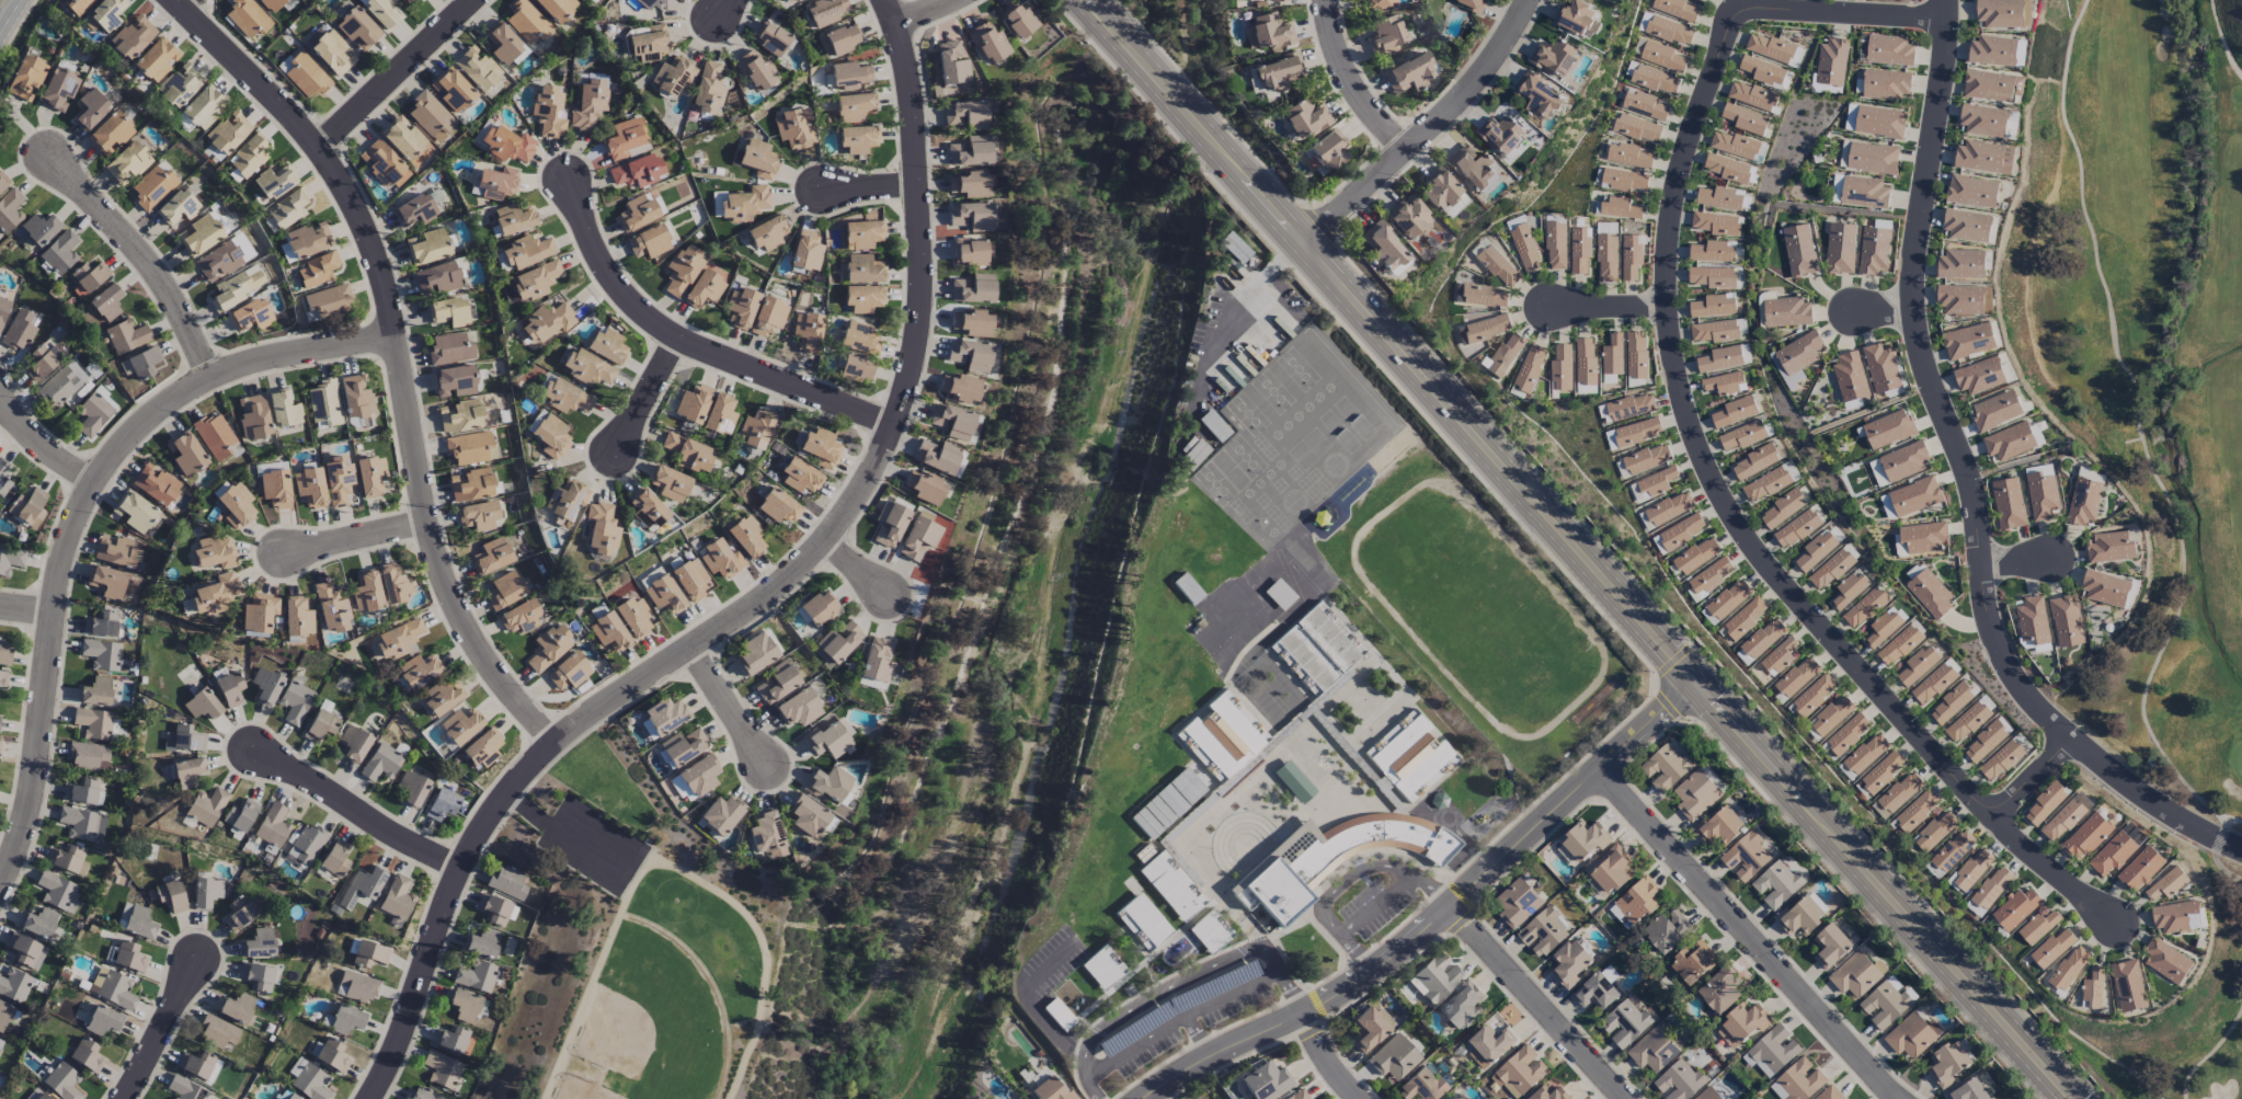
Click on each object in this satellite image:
building: (586, 0)
building: (796, 0)
building: (1698, 0)
road: (186, 1)
building: (409, 1)
building: (1380, 2)
building: (652, 3)
road: (724, 3)
building: (271, 4)
building: (1472, 4)
building: (78, 5)
road: (4, 7)
building: (556, 8)
road: (923, 9)
building: (1675, 9)
building: (380, 11)
building: (824, 11)
building: (2003, 13)
building: (104, 15)
building: (247, 18)
building: (1018, 19)
building: (1576, 19)
building: (526, 21)
building: (1643, 22)
park: (1198, 25)
building: (357, 28)
building: (1669, 31)
building: (1269, 32)
building: (133, 36)
building: (1386, 36)
building: (770, 38)
building: (839, 39)
building: (648, 42)
building: (988, 43)
building: (504, 45)
building: (1862, 48)
building: (1773, 49)
building: (1889, 50)
building: (1992, 50)
building: (332, 53)
building: (1661, 56)
building: (1553, 57)
building: (156, 59)
building: (1831, 61)
building: (951, 62)
building: (476, 68)
building: (754, 70)
building: (1278, 71)
road: (394, 72)
building: (1765, 72)
building: (304, 73)
building: (1409, 73)
building: (672, 75)
building: (849, 75)
building: (25, 78)
road: (1353, 80)
building: (1655, 80)
building: (1885, 84)
building: (180, 85)
building: (1988, 85)
building: (2017, 85)
building: (58, 89)
building: (707, 89)
building: (451, 90)
building: (1536, 96)
building: (1751, 96)
building: (588, 104)
building: (1644, 104)
building: (854, 106)
building: (202, 107)
building: (90, 108)
building: (548, 112)
building: (966, 114)
building: (430, 116)
building: (1850, 117)
building: (1306, 118)
building: (1745, 119)
building: (1982, 121)
building: (1879, 122)
road: (1426, 128)
building: (1637, 128)
building: (793, 129)
building: (110, 133)
building: (1500, 134)
building: (226, 135)
building: (401, 137)
building: (625, 137)
building: (858, 138)
building: (507, 144)
building: (1734, 145)
building: (970, 151)
building: (1326, 151)
building: (248, 156)
building: (1628, 156)
building: (421, 157)
building: (1868, 157)
building: (1983, 157)
building: (757, 158)
building: (127, 162)
building: (382, 163)
building: (1473, 167)
building: (1726, 168)
building: (636, 171)
building: (1624, 180)
building: (3, 181)
building: (275, 182)
building: (496, 183)
building: (969, 184)
building: (153, 185)
road: (867, 186)
building: (1835, 188)
building: (1971, 192)
building: (1864, 193)
building: (1719, 197)
building: (744, 203)
building: (287, 208)
building: (1620, 208)
building: (9, 209)
building: (178, 209)
building: (414, 209)
building: (637, 213)
building: (971, 216)
building: (1408, 217)
building: (513, 218)
building: (1714, 224)
building: (1967, 226)
building: (39, 228)
building: (767, 232)
building: (202, 233)
building: (862, 233)
building: (308, 240)
building: (649, 241)
building: (1523, 244)
building: (1555, 245)
building: (430, 247)
building: (1383, 247)
building: (1235, 248)
building: (1840, 249)
building: (1580, 250)
building: (1798, 250)
building: (1874, 250)
building: (805, 251)
building: (969, 251)
building: (59, 252)
building: (285, 252)
building: (1605, 252)
building: (1713, 252)
building: (524, 253)
road: (142, 254)
building: (224, 256)
building: (1631, 256)
building: (1960, 264)
building: (1497, 265)
building: (318, 268)
building: (860, 270)
building: (682, 271)
building: (89, 276)
building: (437, 277)
building: (1711, 277)
building: (535, 281)
building: (973, 288)
building: (235, 289)
building: (704, 289)
building: (1484, 296)
building: (863, 298)
building: (1965, 299)
building: (328, 301)
building: (106, 302)
building: (1713, 306)
building: (740, 307)
building: (3, 309)
road: (1605, 309)
road: (1883, 309)
building: (449, 311)
building: (1786, 312)
building: (251, 314)
road: (1227, 314)
building: (768, 316)
building: (547, 322)
building: (971, 322)
building: (1485, 328)
building: (18, 331)
building: (808, 331)
building: (1713, 331)
building: (127, 336)
building: (859, 337)
building: (1968, 341)
park: (2148, 341)
road: (1392, 342)
building: (608, 345)
road: (695, 345)
building: (450, 348)
road: (399, 353)
building: (970, 354)
building: (1506, 355)
building: (1612, 355)
building: (1635, 355)
building: (1796, 357)
building: (1719, 359)
building: (144, 362)
building: (1585, 362)
building: (39, 363)
building: (1529, 367)
building: (588, 368)
building: (857, 368)
building: (1560, 368)
building: (1880, 368)
building: (1979, 376)
building: (1849, 377)
building: (455, 380)
building: (62, 383)
building: (1724, 383)
building: (960, 388)
building: (356, 396)
road: (648, 396)
building: (565, 397)
building: (323, 403)
building: (693, 403)
building: (1631, 407)
building: (284, 409)
building: (1995, 410)
building: (1734, 411)
building: (93, 414)
building: (720, 414)
building: (460, 415)
building: (253, 417)
building: (535, 420)
building: (952, 421)
building: (755, 428)
building: (1888, 428)
building: (1634, 433)
building: (215, 435)
building: (551, 436)
road: (1694, 436)
building: (1742, 436)
road: (45, 440)
building: (2009, 442)
building: (821, 447)
building: (471, 448)
building: (185, 453)
building: (688, 453)
building: (1192, 454)
building: (937, 456)
building: (1646, 459)
building: (1904, 460)
building: (1754, 462)
building: (1877, 472)
building: (2091, 474)
building: (370, 476)
building: (801, 476)
building: (3, 479)
building: (338, 480)
road: (1968, 481)
building: (668, 483)
building: (1656, 483)
building: (155, 484)
building: (472, 484)
building: (1765, 484)
building: (310, 486)
building: (925, 486)
building: (275, 488)
building: (2040, 495)
building: (1914, 496)
building: (565, 499)
building: (2083, 502)
building: (2007, 503)
building: (236, 504)
building: (778, 506)
building: (28, 507)
building: (1887, 507)
building: (647, 508)
building: (1669, 508)
building: (1782, 508)
road: (79, 511)
building: (136, 512)
building: (478, 515)
building: (890, 523)
building: (600, 528)
building: (1796, 528)
building: (1681, 531)
road: (356, 536)
building: (747, 536)
building: (1922, 537)
building: (919, 538)
building: (1658, 546)
building: (1899, 548)
building: (2111, 548)
building: (116, 550)
building: (1816, 550)
building: (214, 552)
building: (492, 556)
building: (1695, 556)
building: (11, 558)
building: (721, 559)
road: (2022, 562)
road: (858, 566)
building: (1830, 569)
building: (1708, 577)
building: (690, 579)
building: (106, 581)
building: (394, 583)
building: (2105, 588)
building: (504, 589)
building: (1849, 589)
building: (366, 592)
building: (1930, 593)
building: (214, 594)
building: (664, 594)
road: (757, 598)
building: (1726, 602)
road: (27, 604)
building: (330, 607)
building: (819, 607)
building: (1864, 607)
building: (259, 613)
building: (634, 616)
building: (297, 617)
building: (519, 617)
building: (1745, 618)
building: (2032, 620)
building: (2066, 621)
building: (101, 623)
building: (1883, 628)
building: (608, 631)
building: (1763, 638)
building: (398, 639)
building: (836, 643)
building: (1898, 645)
building: (549, 646)
building: (1323, 650)
building: (4, 652)
building: (755, 653)
building: (102, 654)
building: (1778, 656)
building: (877, 660)
building: (1918, 665)
building: (419, 669)
building: (569, 672)
building: (1797, 677)
building: (3, 678)
building: (777, 683)
building: (1933, 684)
building: (265, 685)
building: (229, 688)
building: (95, 691)
building: (1814, 694)
building: (442, 696)
building: (295, 701)
building: (1951, 703)
building: (202, 705)
road: (731, 708)
building: (799, 708)
building: (665, 714)
building: (1832, 716)
building: (1969, 719)
building: (93, 722)
building: (321, 724)
building: (460, 725)
building: (1231, 732)
building: (1848, 733)
building: (183, 739)
building: (827, 740)
building: (1986, 741)
building: (0, 742)
building: (354, 743)
building: (683, 746)
building: (481, 747)
building: (1866, 754)
building: (89, 756)
building: (1416, 757)
building: (2003, 757)
building: (381, 763)
building: (1665, 768)
building: (187, 771)
building: (1879, 775)
building: (700, 776)
road: (2033, 777)
building: (1294, 781)
building: (827, 783)
building: (412, 788)
building: (680, 789)
building: (82, 791)
building: (1899, 792)
building: (1695, 794)
road: (1572, 798)
building: (2045, 803)
road: (357, 804)
building: (442, 804)
building: (206, 806)
building: (1917, 810)
building: (240, 814)
building: (721, 814)
building: (807, 815)
building: (2066, 817)
building: (82, 824)
building: (273, 825)
building: (1719, 827)
building: (1933, 833)
building: (767, 835)
building: (2086, 837)
building: (1585, 840)
building: (307, 844)
parking lot: (593, 846)
building: (1953, 850)
building: (2114, 852)
building: (1745, 857)
building: (1342, 858)
building: (67, 859)
building: (335, 859)
road: (671, 866)
building: (2140, 869)
building: (1612, 870)
building: (1972, 870)
road: (618, 878)
building: (507, 882)
building: (2166, 884)
building: (1776, 885)
building: (362, 886)
road: (1435, 890)
building: (57, 891)
road: (1880, 891)
building: (1989, 891)
building: (206, 892)
road: (1337, 893)
building: (171, 895)
building: (397, 897)
building: (1637, 901)
road: (1381, 903)
building: (1518, 903)
building: (495, 909)
building: (2015, 909)
building: (239, 913)
parking lot: (1368, 916)
building: (1620, 917)
building: (1799, 917)
building: (2176, 917)
building: (1143, 921)
building: (39, 923)
building: (139, 923)
building: (2037, 927)
building: (1211, 931)
building: (1667, 931)
building: (1542, 932)
road: (1748, 935)
park: (633, 940)
building: (482, 942)
building: (259, 943)
building: (1830, 946)
building: (2051, 949)
building: (25, 950)
building: (369, 953)
building: (129, 957)
building: (1693, 962)
building: (2166, 962)
building: (1570, 963)
building: (1103, 968)
building: (2069, 968)
building: (1855, 974)
building: (476, 975)
building: (258, 976)
building: (1434, 977)
building: (14, 985)
building: (2128, 985)
building: (359, 986)
road: (1183, 986)
building: (2093, 988)
building: (117, 989)
building: (1720, 989)
building: (1595, 992)
road: (1234, 995)
road: (1036, 1003)
road: (1535, 1004)
building: (464, 1005)
building: (1884, 1005)
building: (1462, 1006)
building: (237, 1007)
building: (5, 1015)
road: (1303, 1016)
building: (103, 1020)
building: (346, 1020)
parking lot: (1182, 1022)
building: (1624, 1023)
building: (1741, 1024)
building: (1369, 1027)
road: (164, 1030)
building: (217, 1031)
building: (1911, 1035)
road: (1199, 1037)
building: (451, 1038)
building: (0, 1041)
park: (2189, 1043)
road: (1142, 1046)
building: (1652, 1050)
building: (1772, 1051)
building: (85, 1054)
building: (332, 1055)
road: (1332, 1057)
building: (1393, 1057)
building: (1706, 1062)
building: (1948, 1064)
building: (198, 1065)
building: (442, 1068)
building: (1519, 1072)
building: (1266, 1080)
building: (1798, 1080)
building: (62, 1081)
building: (1679, 1081)
building: (310, 1083)
building: (1422, 1086)
building: (185, 1088)
building: (1050, 1090)
building: (1968, 1091)
building: (1551, 1094)
building: (1707, 1094)
building: (1829, 1094)
building: (421, 1095)
building: (1299, 1095)
building: (293, 1096)
building: (41, 1097)
building: (1453, 1098)

